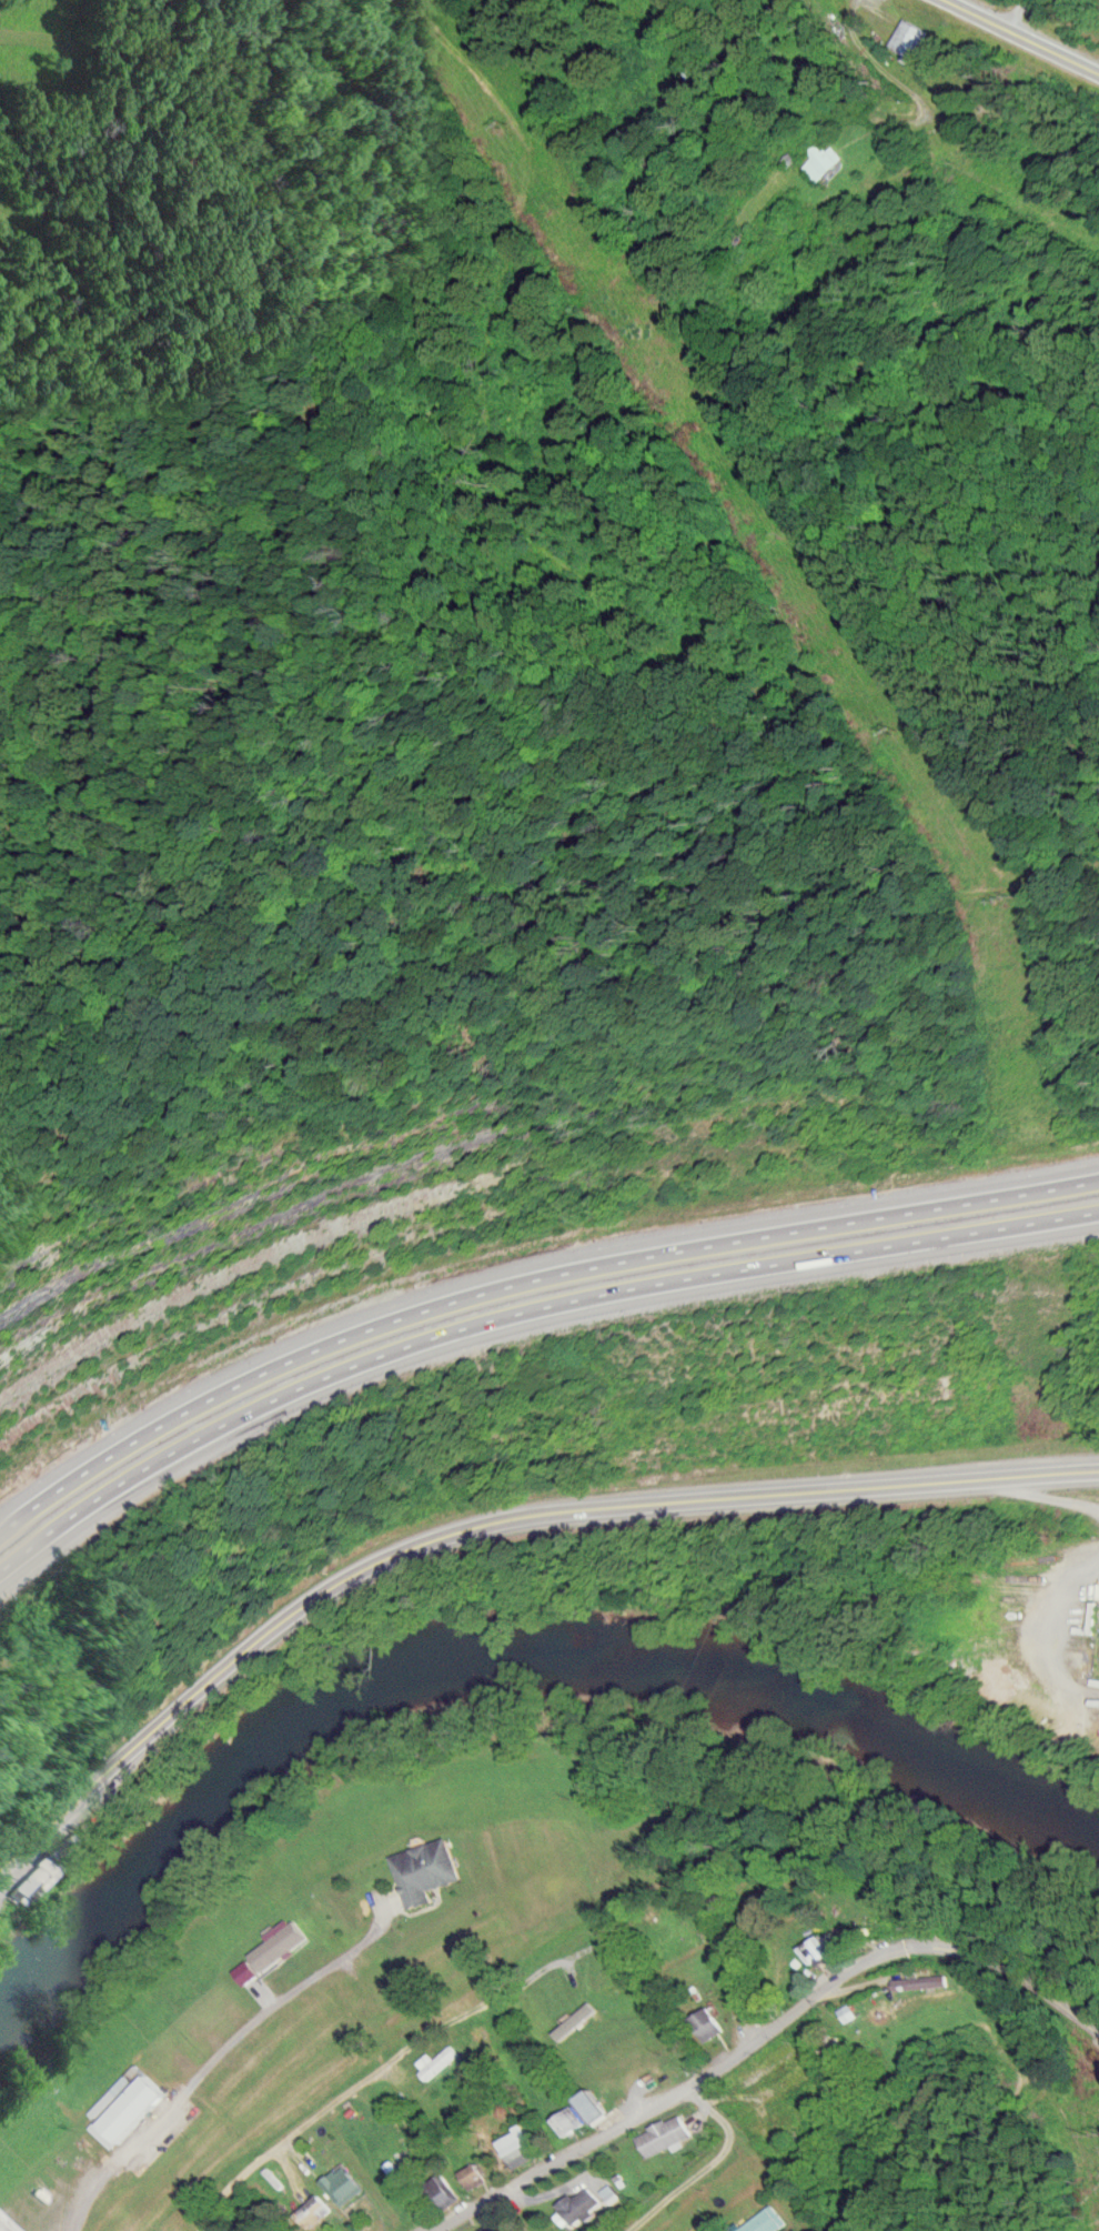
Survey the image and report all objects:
road: (1047, 11)
road: (1029, 33)
building: (909, 38)
building: (825, 160)
road: (522, 1276)
road: (521, 1315)
road: (493, 1522)
river: (503, 1655)
building: (428, 1869)
building: (29, 1879)
building: (817, 1950)
road: (1011, 1980)
building: (710, 2022)
building: (440, 2060)
road: (664, 2084)
building: (135, 2101)
building: (595, 2103)
building: (572, 2119)
road: (305, 2128)
building: (665, 2133)
building: (520, 2145)
building: (475, 2173)
road: (285, 2175)
building: (345, 2183)
building: (443, 2190)
building: (582, 2202)
building: (316, 2211)
building: (6, 2223)

